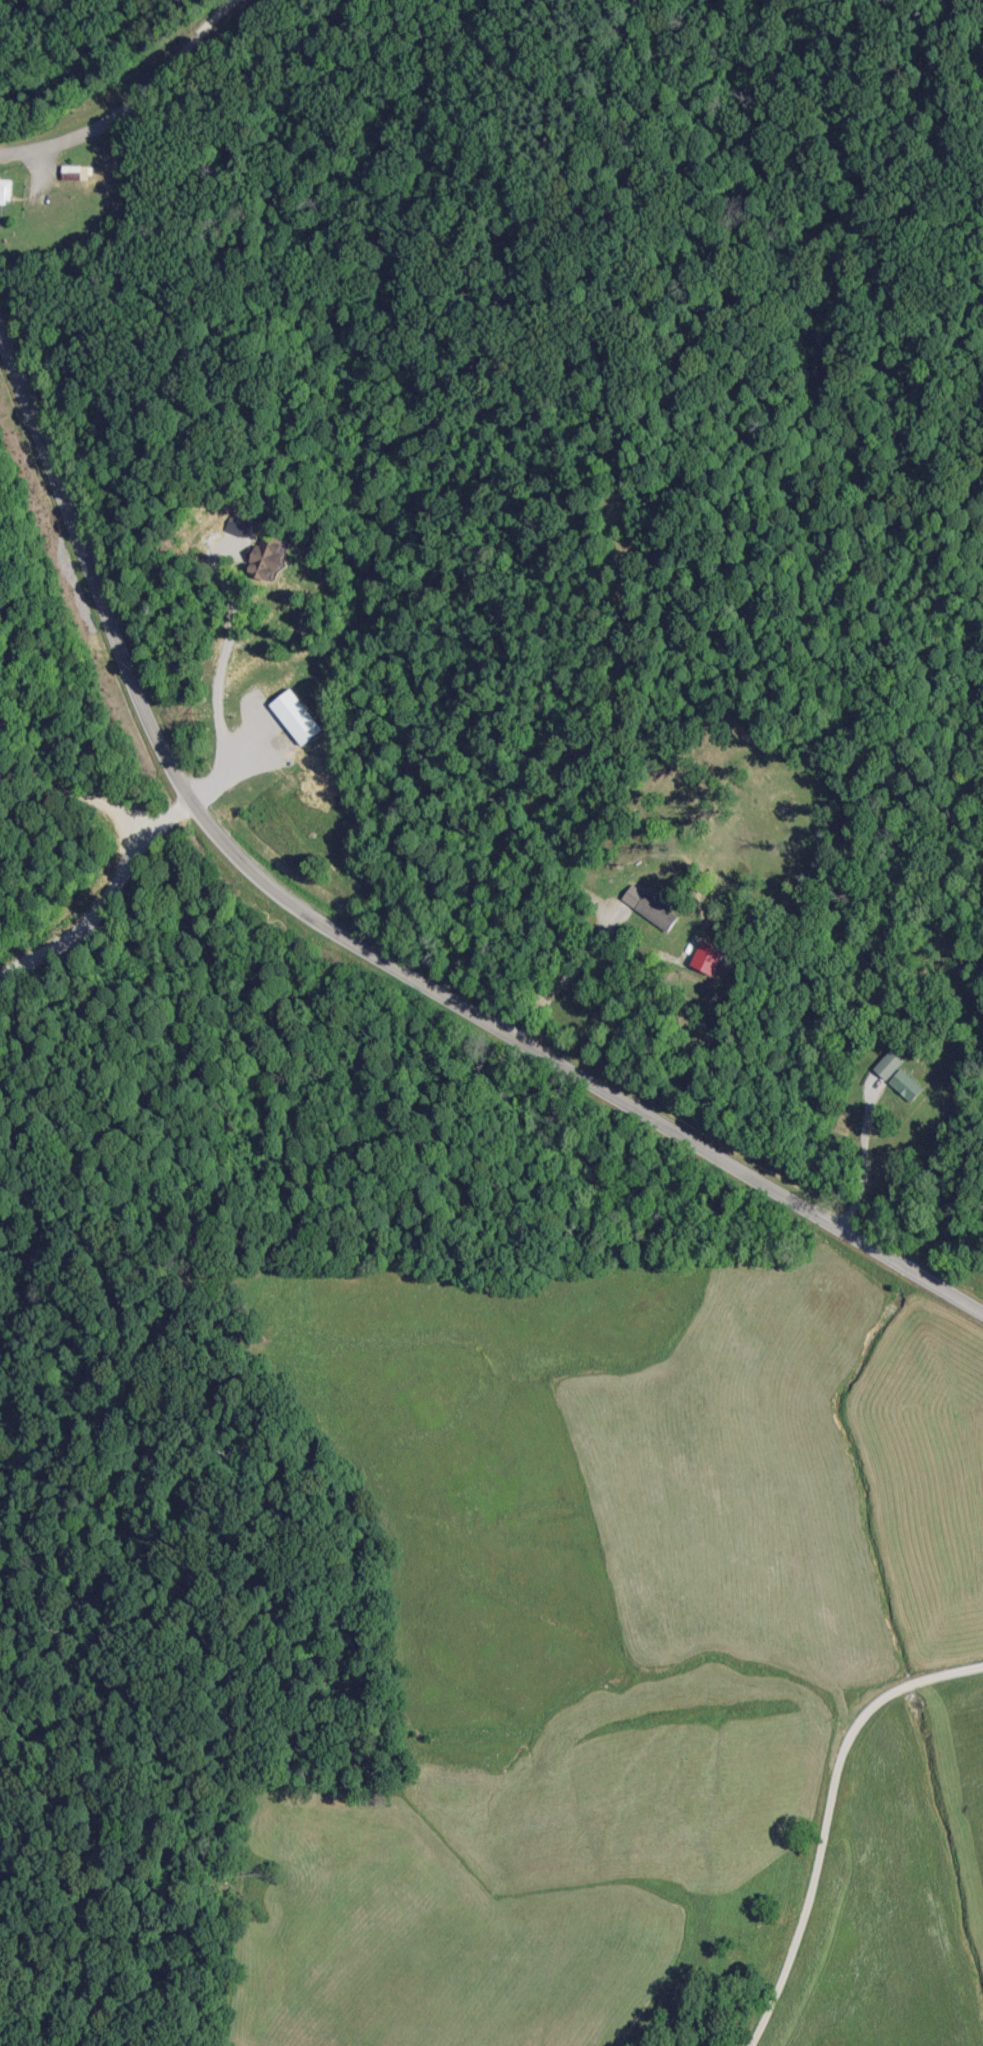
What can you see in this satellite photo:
road: (170, 117)
building: (74, 172)
building: (5, 190)
road: (1, 279)
building: (266, 552)
road: (222, 671)
building: (296, 717)
road: (103, 808)
building: (649, 907)
road: (351, 914)
building: (897, 1076)
road: (823, 1815)

